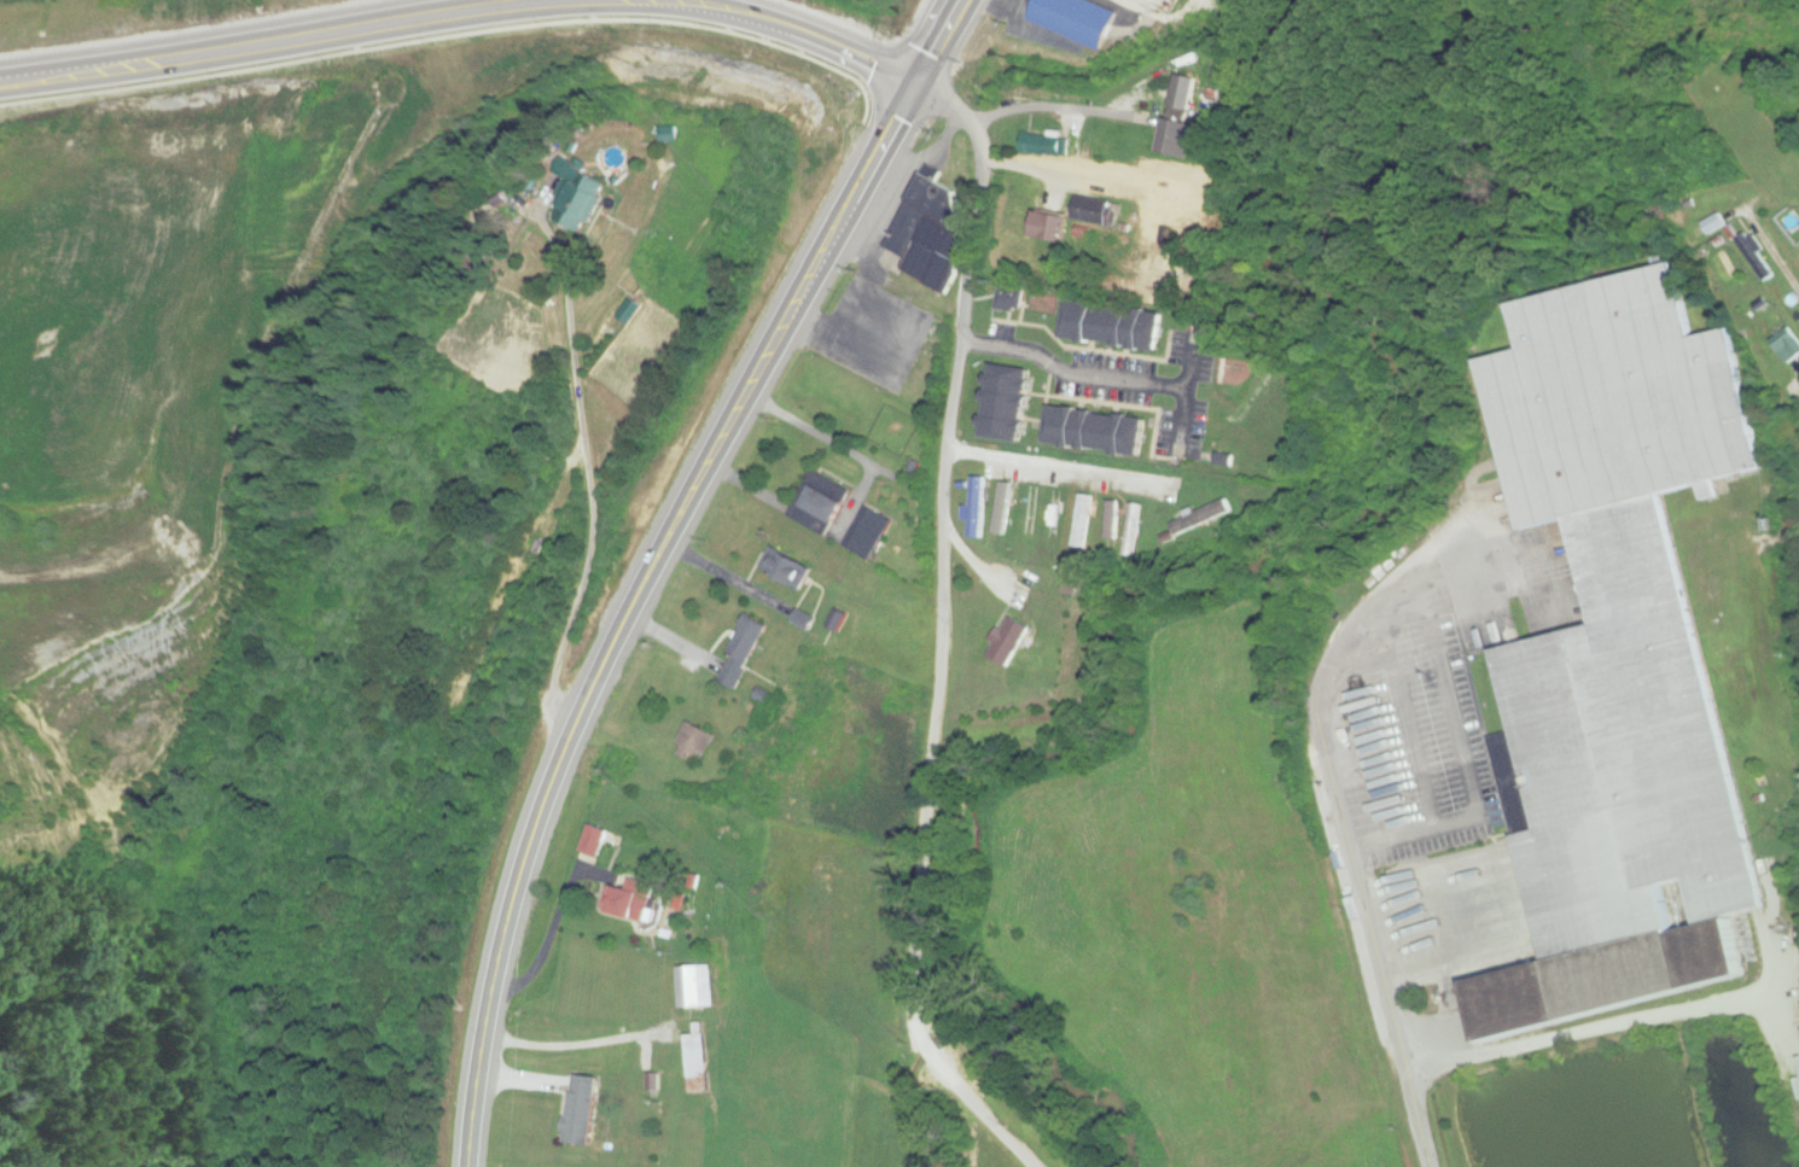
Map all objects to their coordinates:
building: (1076, 19)
road: (827, 35)
road: (251, 40)
building: (1174, 139)
building: (1041, 144)
building: (580, 197)
building: (1093, 211)
building: (1049, 227)
building: (930, 233)
building: (1756, 257)
building: (1007, 300)
building: (1112, 326)
building: (1007, 409)
building: (1095, 432)
road: (1093, 467)
building: (823, 498)
building: (1002, 512)
building: (1031, 513)
building: (869, 533)
road: (659, 559)
building: (788, 571)
road: (937, 635)
building: (1008, 642)
building: (741, 653)
building: (1624, 653)
building: (693, 743)
road: (1353, 827)
building: (593, 842)
building: (628, 903)
building: (695, 986)
building: (699, 1062)
building: (582, 1110)

